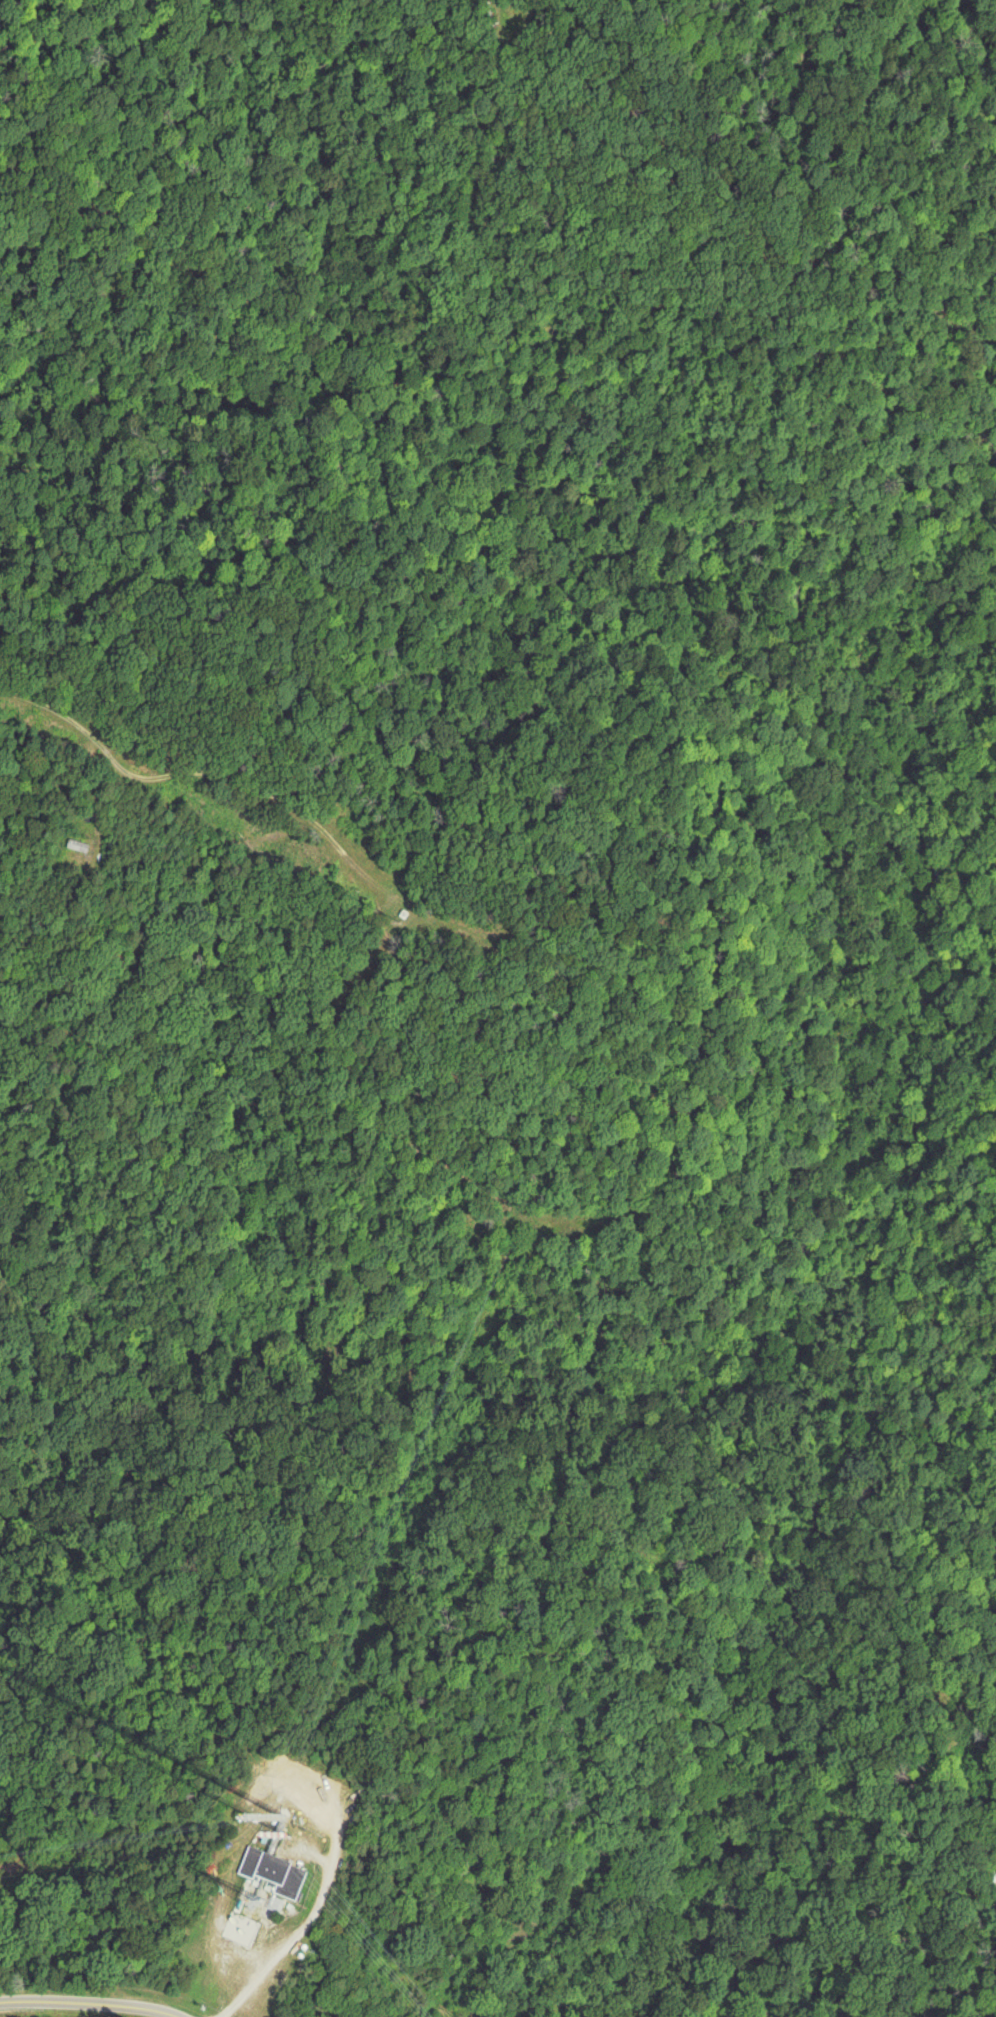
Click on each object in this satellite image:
building: (79, 845)
building: (274, 1871)
road: (93, 1996)

